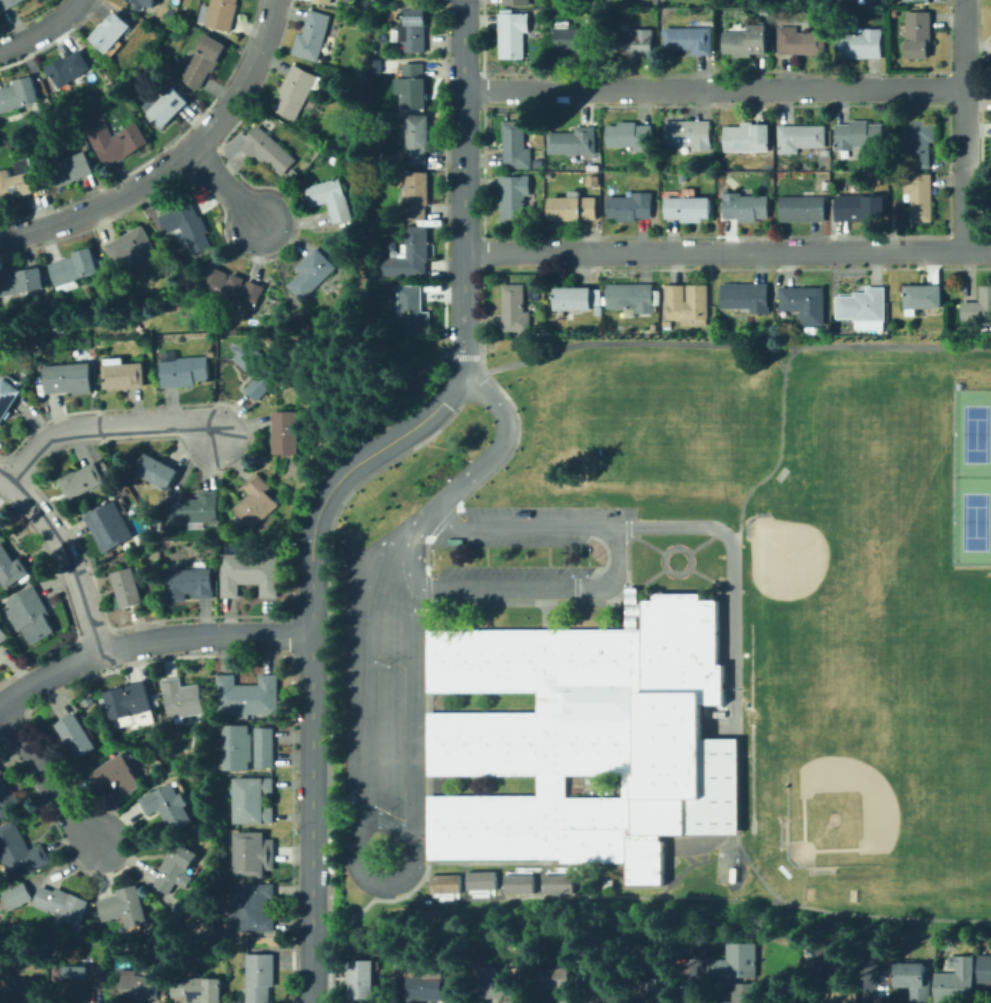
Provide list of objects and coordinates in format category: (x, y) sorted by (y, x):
building: (918, 0)
building: (322, 1)
building: (867, 1)
building: (139, 2)
building: (516, 2)
building: (8, 4)
building: (376, 7)
building: (366, 8)
building: (219, 14)
building: (549, 15)
building: (539, 16)
building: (337, 23)
road: (42, 28)
building: (412, 30)
building: (111, 31)
building: (512, 33)
building: (917, 34)
building: (540, 35)
building: (312, 36)
building: (573, 39)
building: (689, 40)
building: (745, 41)
building: (800, 42)
building: (630, 45)
building: (860, 45)
building: (717, 50)
building: (204, 60)
building: (393, 64)
building: (69, 69)
building: (413, 86)
road: (714, 90)
building: (297, 91)
building: (19, 95)
building: (167, 106)
building: (46, 117)
building: (64, 118)
road: (964, 125)
building: (689, 134)
building: (858, 135)
building: (629, 137)
building: (747, 138)
building: (800, 138)
building: (418, 140)
building: (118, 142)
building: (920, 142)
building: (573, 143)
building: (515, 146)
building: (268, 150)
road: (173, 159)
building: (537, 161)
building: (720, 164)
building: (71, 169)
building: (549, 175)
building: (684, 176)
building: (592, 178)
building: (654, 179)
building: (19, 181)
road: (223, 185)
building: (679, 191)
building: (418, 195)
building: (919, 196)
building: (513, 198)
building: (331, 199)
building: (630, 207)
building: (744, 207)
building: (858, 207)
building: (572, 208)
building: (688, 208)
building: (802, 208)
building: (187, 226)
building: (133, 249)
road: (727, 252)
building: (412, 255)
building: (75, 269)
building: (312, 274)
building: (20, 283)
building: (231, 288)
building: (631, 297)
building: (577, 298)
building: (746, 298)
building: (922, 298)
building: (687, 305)
building: (804, 305)
building: (863, 305)
building: (130, 307)
building: (978, 307)
building: (514, 309)
building: (414, 310)
building: (57, 320)
building: (271, 322)
building: (69, 325)
building: (535, 328)
building: (819, 331)
road: (726, 342)
building: (489, 344)
road: (773, 355)
building: (183, 370)
building: (258, 371)
building: (124, 374)
building: (69, 378)
building: (956, 385)
building: (8, 398)
park: (674, 416)
road: (105, 426)
building: (286, 432)
park: (974, 433)
road: (780, 448)
building: (158, 472)
park: (780, 473)
road: (470, 476)
road: (340, 477)
building: (83, 481)
building: (256, 502)
building: (198, 510)
park: (973, 521)
building: (110, 525)
park: (875, 527)
road: (626, 530)
road: (645, 541)
road: (668, 550)
road: (66, 553)
road: (616, 557)
building: (11, 567)
road: (731, 572)
building: (249, 574)
road: (709, 580)
park: (807, 580)
building: (189, 584)
building: (128, 588)
road: (632, 590)
road: (426, 591)
road: (627, 591)
building: (630, 608)
building: (31, 615)
road: (546, 616)
road: (427, 617)
building: (3, 635)
road: (147, 641)
park: (938, 649)
road: (428, 660)
park: (750, 678)
building: (247, 696)
building: (182, 699)
building: (211, 699)
building: (129, 701)
road: (429, 701)
building: (94, 709)
parking lot: (383, 717)
building: (574, 735)
building: (78, 736)
road: (429, 743)
building: (264, 746)
building: (238, 747)
building: (202, 750)
park: (956, 768)
building: (1, 772)
park: (860, 772)
building: (117, 776)
road: (47, 781)
park: (750, 782)
road: (430, 784)
building: (714, 789)
building: (7, 798)
building: (253, 800)
building: (169, 806)
road: (430, 826)
building: (20, 852)
building: (252, 854)
road: (354, 861)
road: (517, 862)
road: (696, 862)
building: (176, 867)
road: (526, 868)
building: (479, 879)
road: (499, 881)
road: (464, 882)
building: (517, 882)
building: (557, 882)
building: (606, 882)
building: (443, 883)
road: (374, 891)
road: (484, 894)
building: (19, 895)
road: (449, 897)
road: (657, 897)
road: (486, 901)
building: (63, 904)
building: (126, 907)
building: (250, 907)
building: (175, 909)
road: (360, 911)
road: (846, 911)
building: (208, 922)
building: (235, 942)
building: (396, 949)
building: (837, 960)
building: (736, 963)
building: (985, 969)
road: (698, 976)
building: (260, 977)
building: (361, 979)
building: (80, 980)
building: (914, 981)
building: (956, 981)
building: (560, 983)
building: (141, 987)
building: (497, 987)
building: (607, 988)
building: (198, 989)
building: (434, 989)
road: (873, 989)
building: (656, 990)
building: (20, 991)
building: (743, 994)
building: (841, 994)

